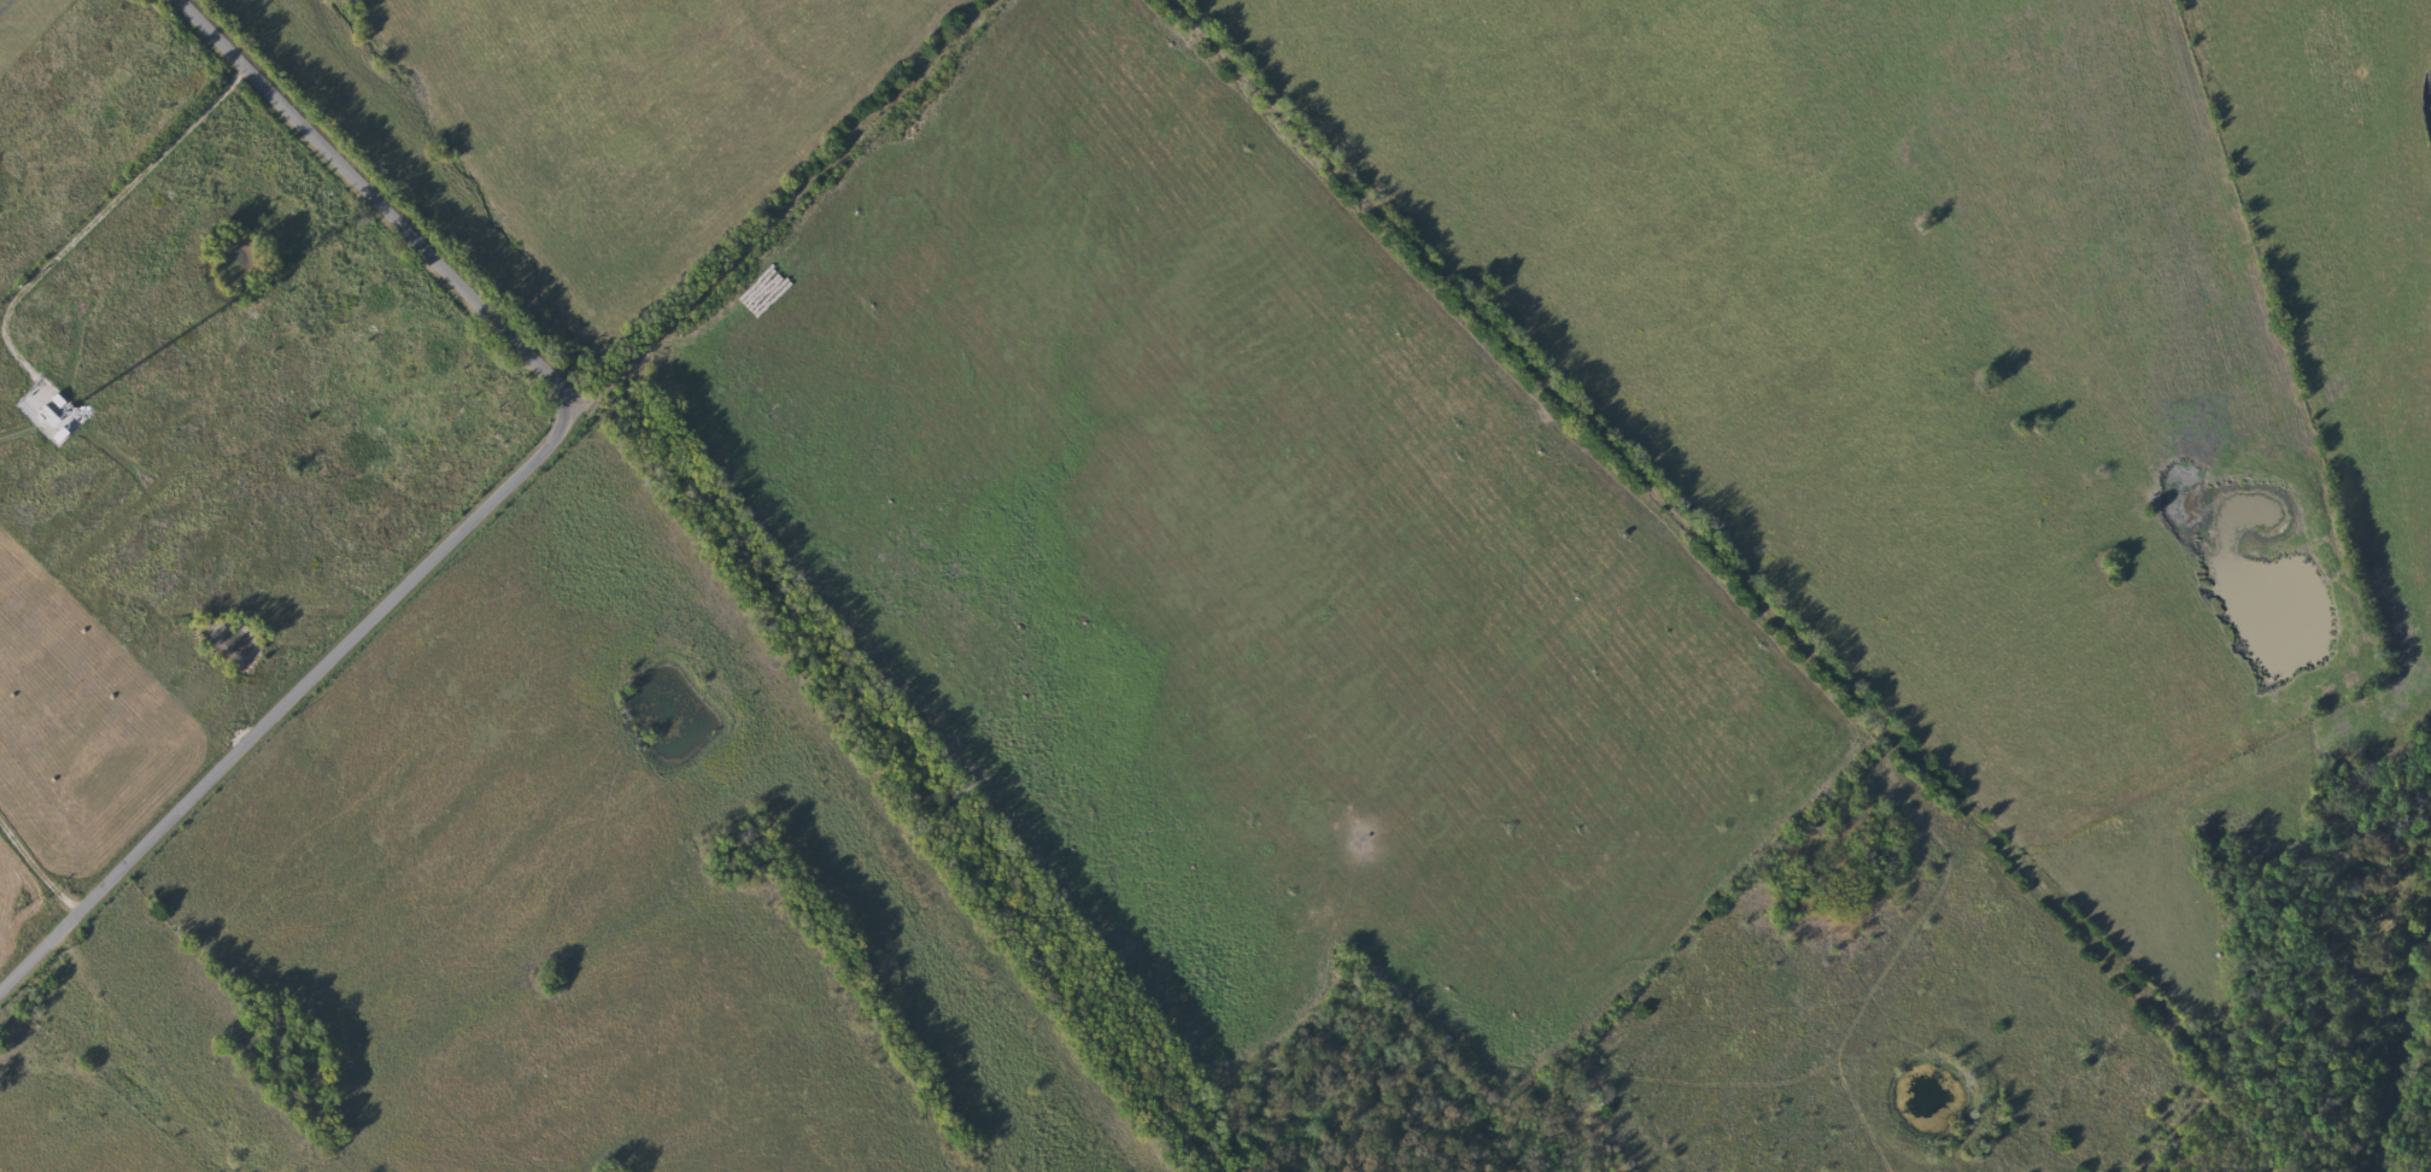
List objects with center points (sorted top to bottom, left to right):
road: (385, 201)
road: (95, 218)
road: (491, 494)
road: (1740, 580)
road: (147, 1051)

